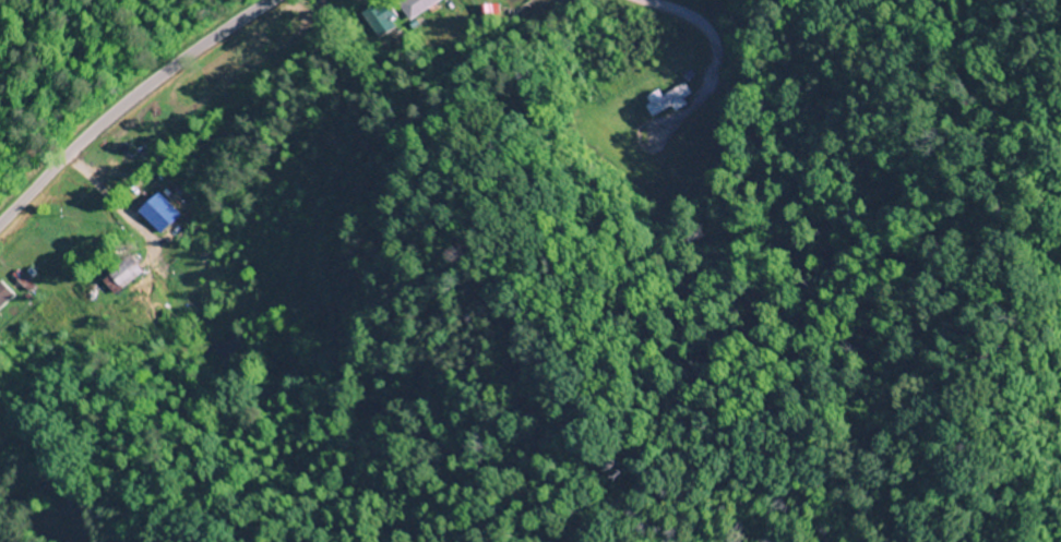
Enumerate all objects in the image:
building: (412, 7)
building: (379, 22)
road: (126, 99)
building: (665, 99)
building: (156, 213)
building: (115, 275)
building: (7, 296)

